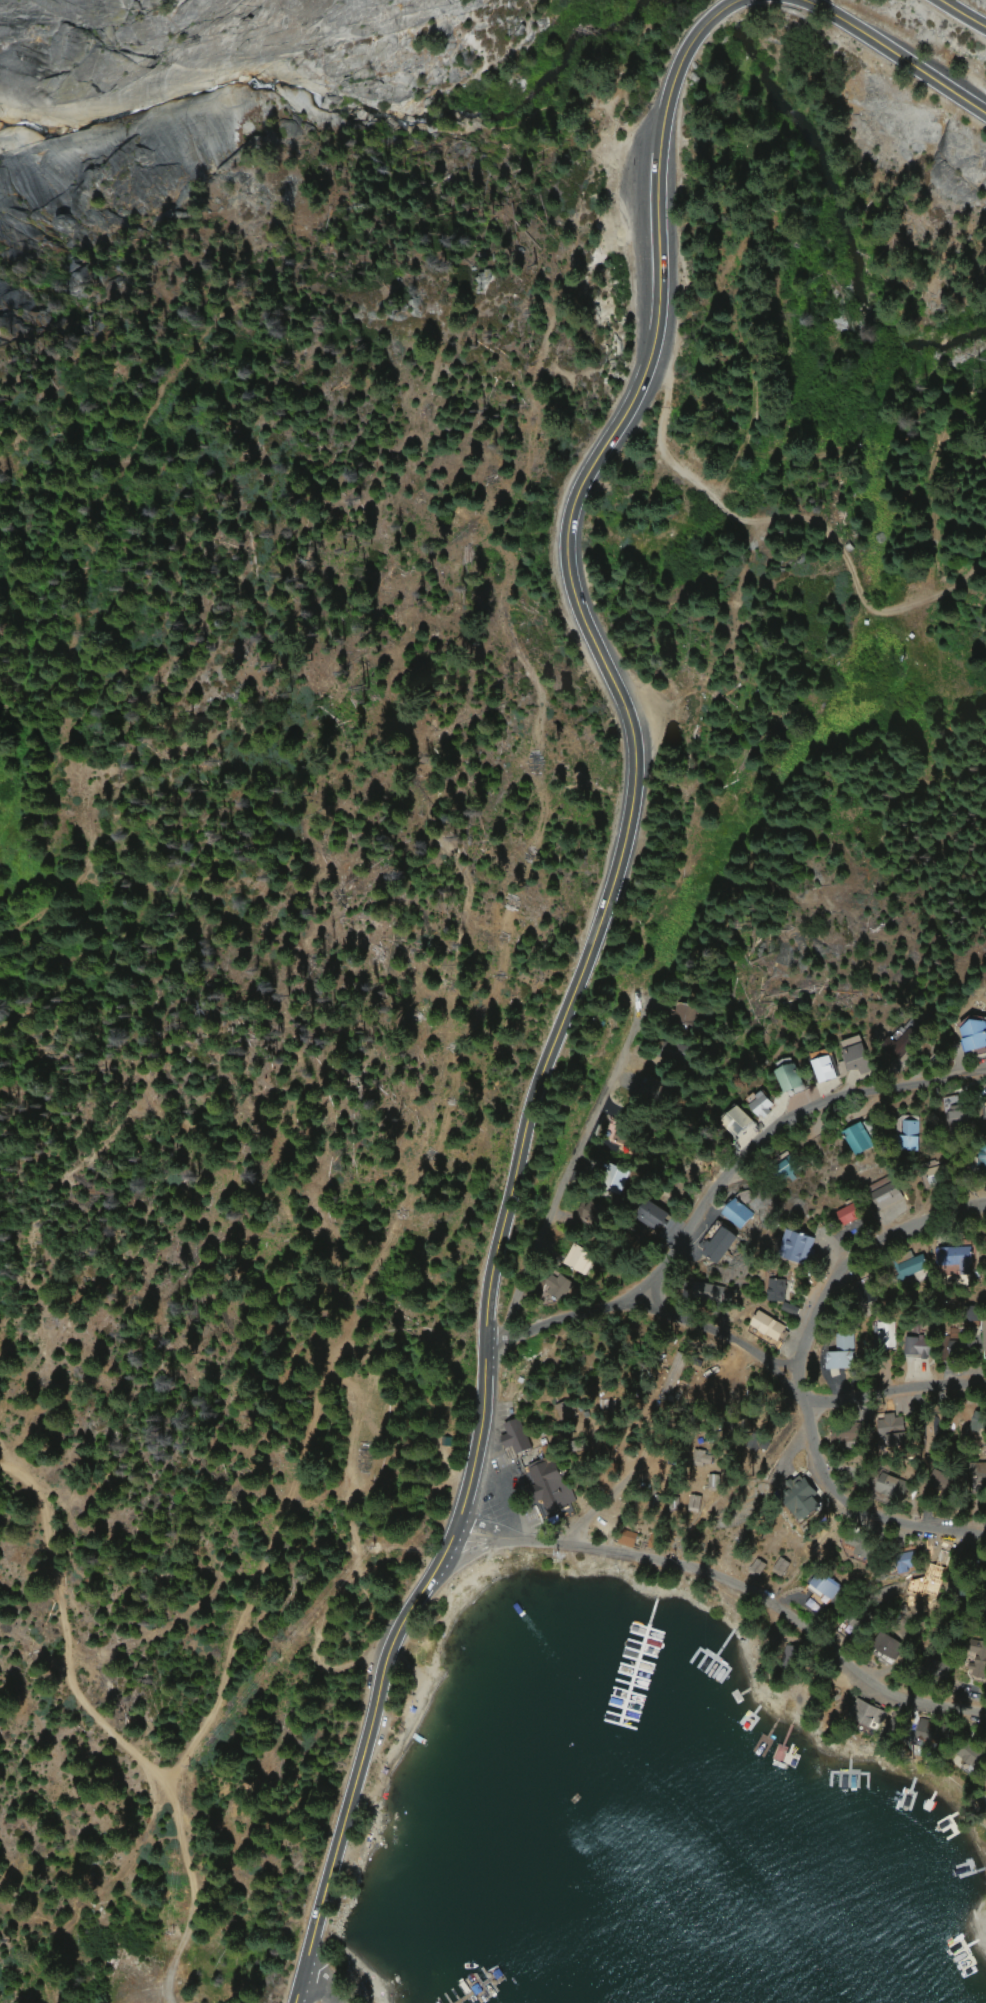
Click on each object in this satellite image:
road: (960, 16)
road: (894, 54)
road: (775, 517)
road: (569, 992)
building: (975, 1035)
building: (859, 1055)
road: (630, 1058)
building: (827, 1069)
building: (792, 1079)
building: (764, 1105)
road: (772, 1112)
building: (957, 1114)
building: (739, 1121)
building: (911, 1136)
building: (860, 1140)
building: (982, 1160)
building: (618, 1180)
building: (889, 1196)
building: (740, 1213)
building: (653, 1215)
building: (722, 1246)
building: (799, 1247)
building: (958, 1258)
building: (583, 1259)
road: (858, 1260)
building: (709, 1291)
building: (782, 1291)
building: (771, 1330)
building: (984, 1334)
building: (890, 1336)
building: (920, 1347)
building: (845, 1354)
road: (756, 1357)
building: (675, 1378)
road: (895, 1388)
building: (760, 1443)
building: (553, 1491)
building: (802, 1498)
road: (722, 1575)
building: (828, 1586)
pier: (597, 1765)
road: (152, 1774)
road: (302, 1984)
pier: (480, 1994)

